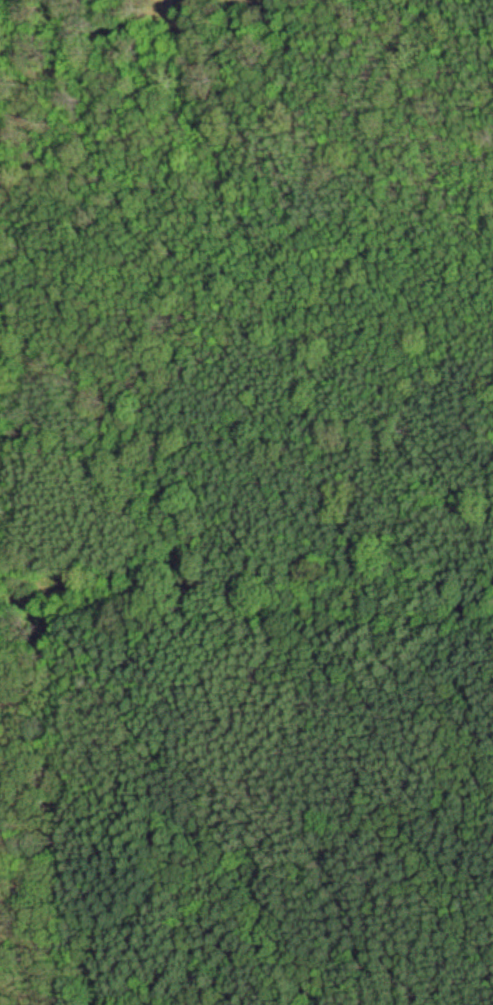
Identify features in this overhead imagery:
road: (12, 983)

